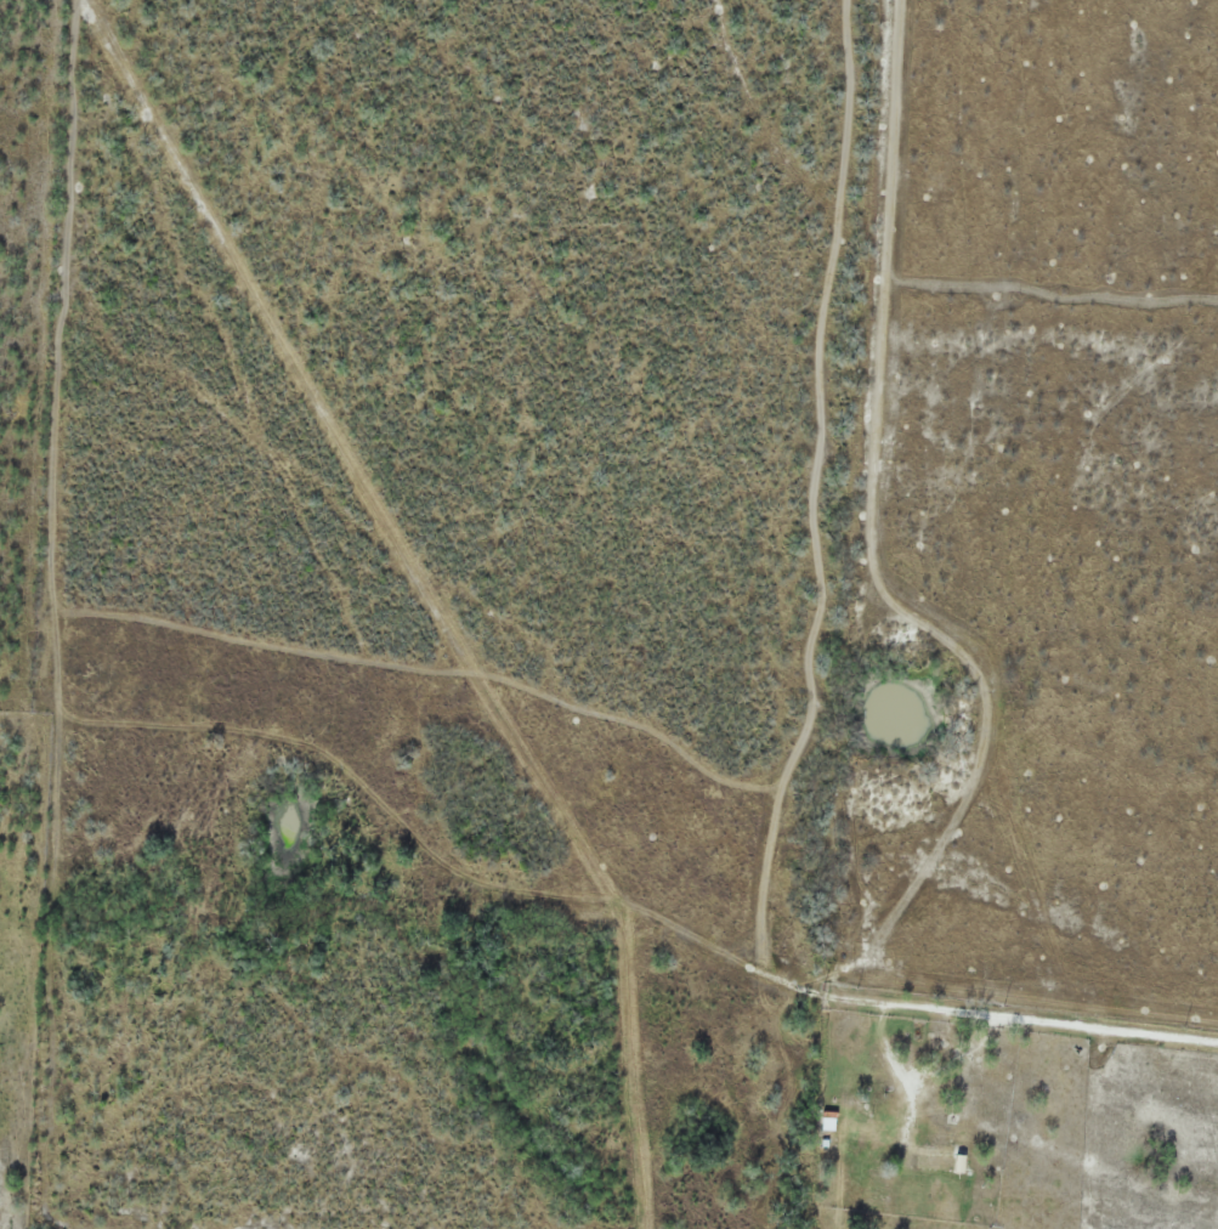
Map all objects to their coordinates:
building: (840, 1088)

